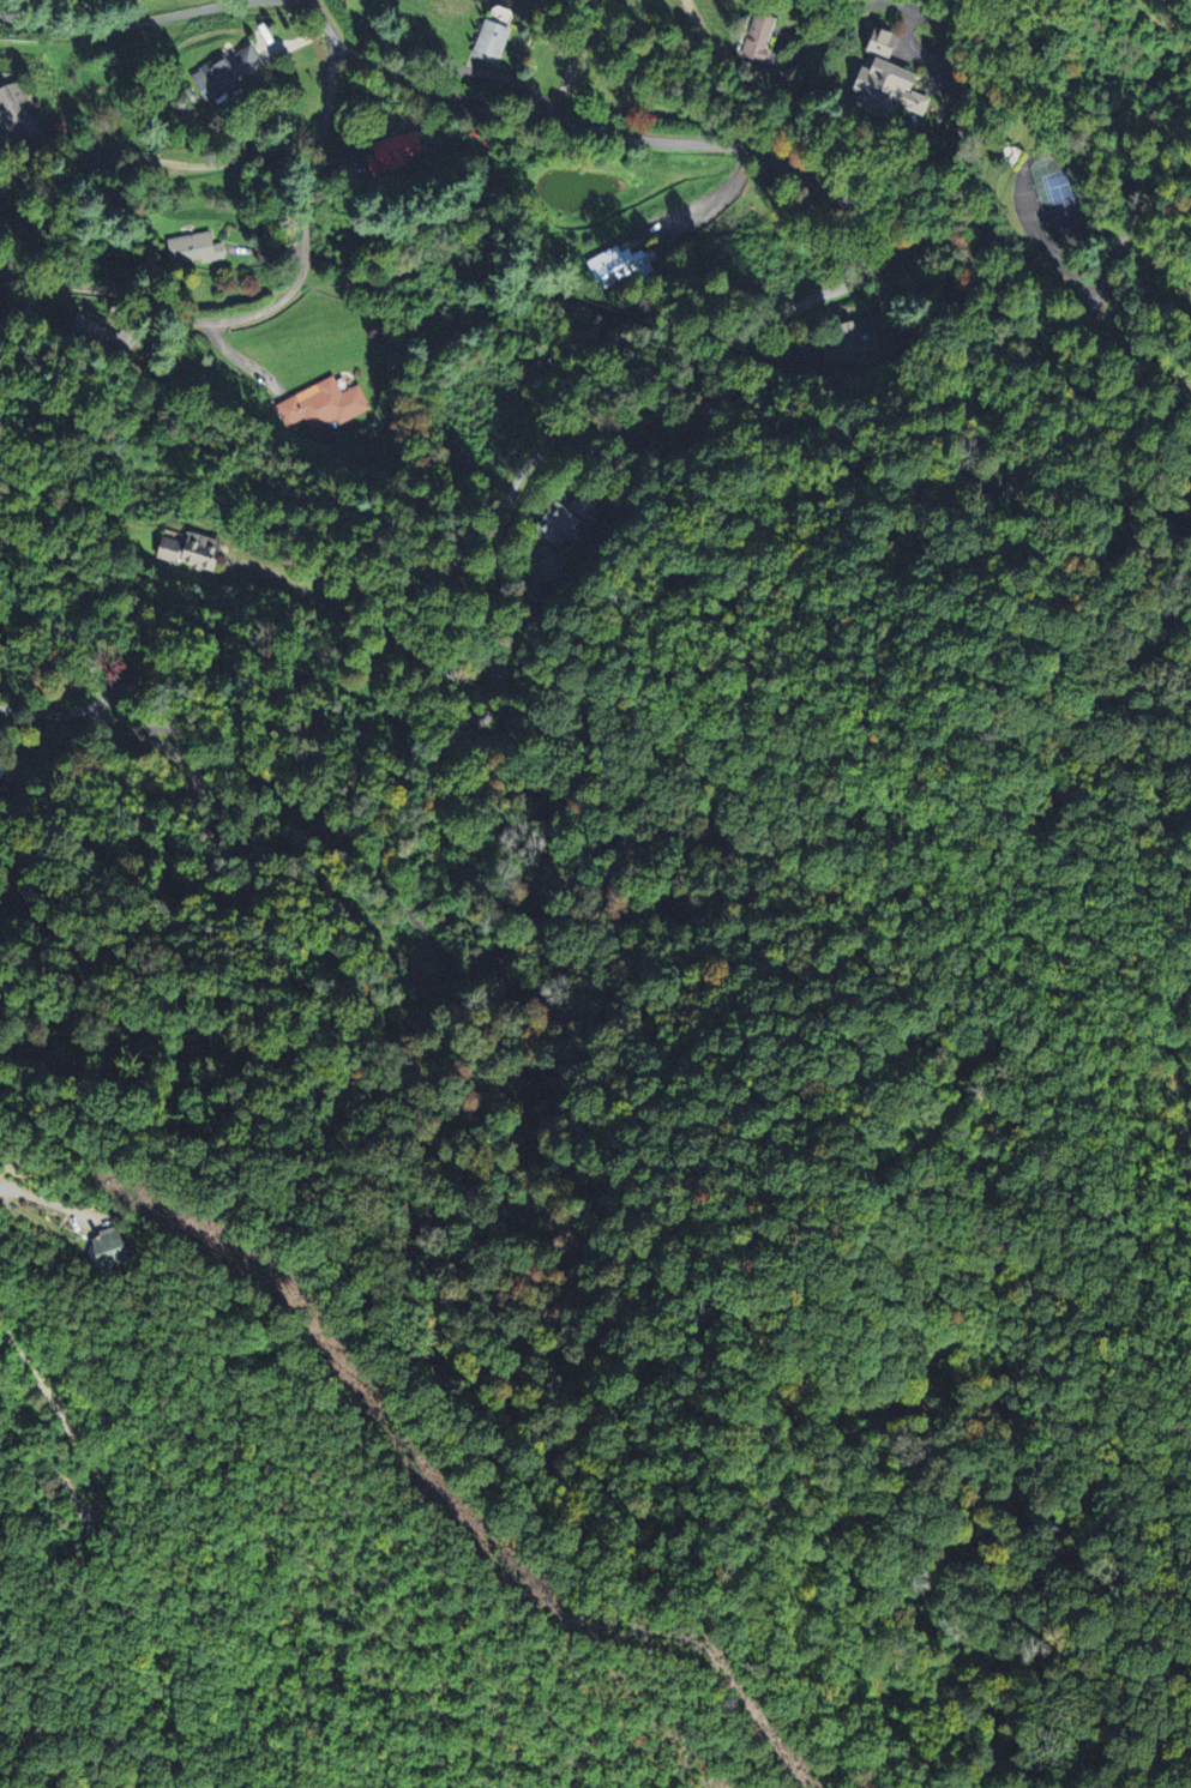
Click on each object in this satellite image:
road: (125, 25)
building: (757, 36)
building: (487, 41)
building: (877, 43)
building: (222, 71)
building: (880, 90)
building: (11, 102)
road: (602, 131)
building: (390, 151)
road: (205, 169)
road: (718, 195)
building: (191, 247)
building: (619, 264)
road: (273, 308)
road: (1084, 313)
building: (847, 348)
building: (320, 404)
building: (563, 518)
building: (186, 549)
road: (166, 674)
road: (53, 714)
road: (196, 1025)
road: (37, 1199)
building: (103, 1248)
road: (577, 1375)
road: (92, 1474)

